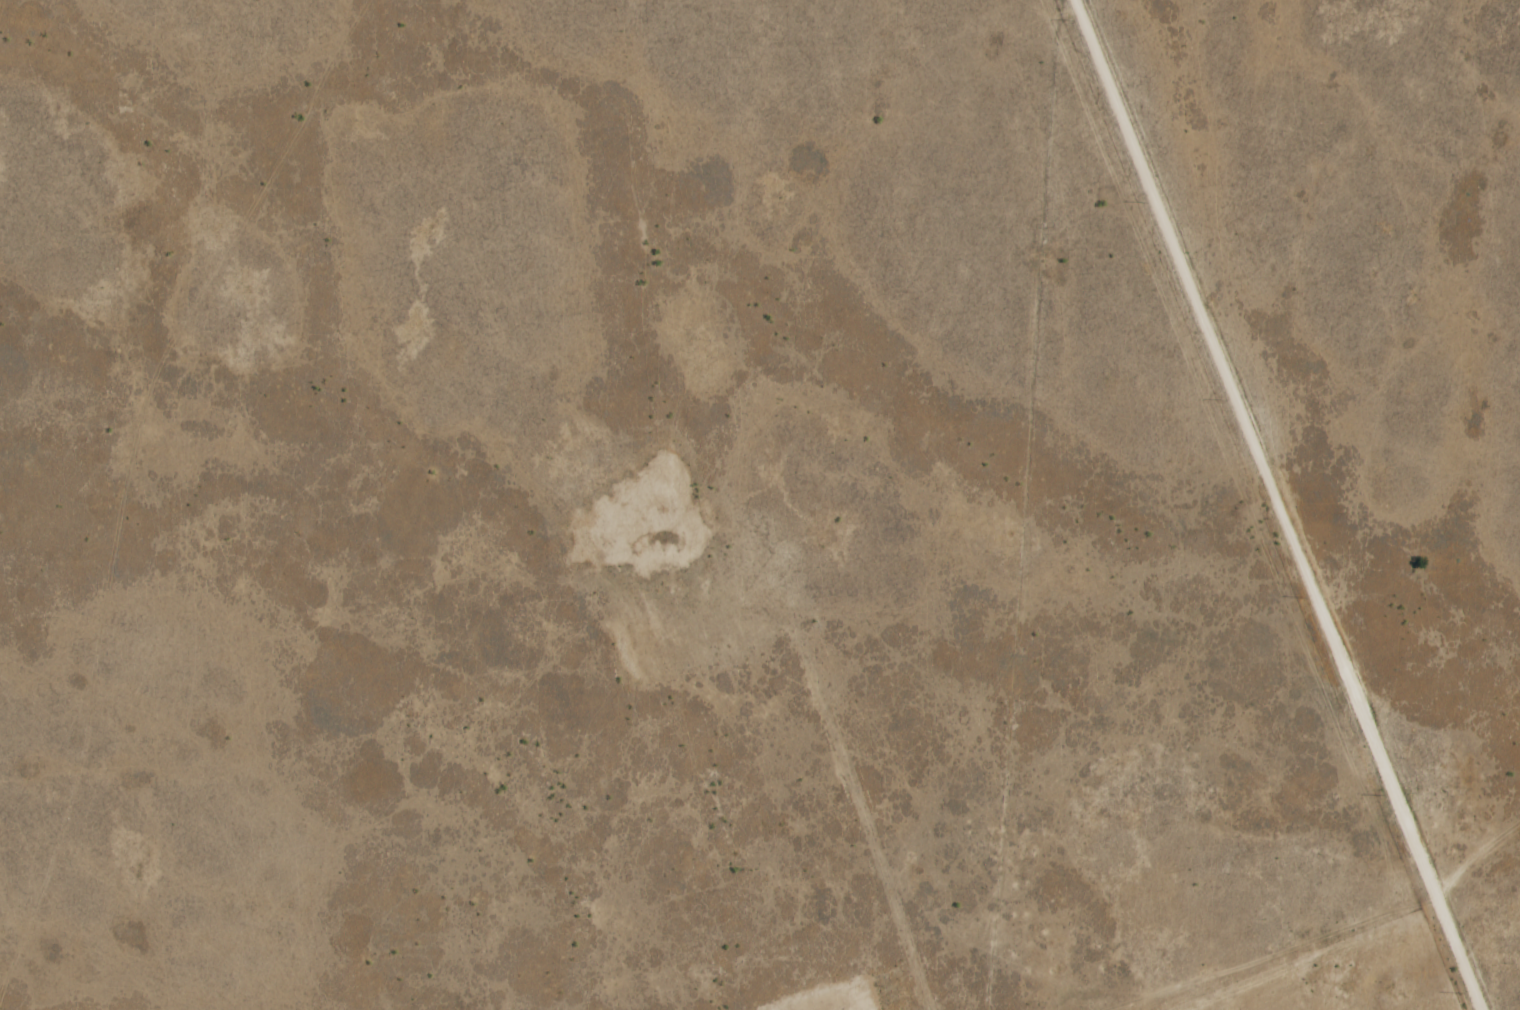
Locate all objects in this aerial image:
road: (1288, 505)

